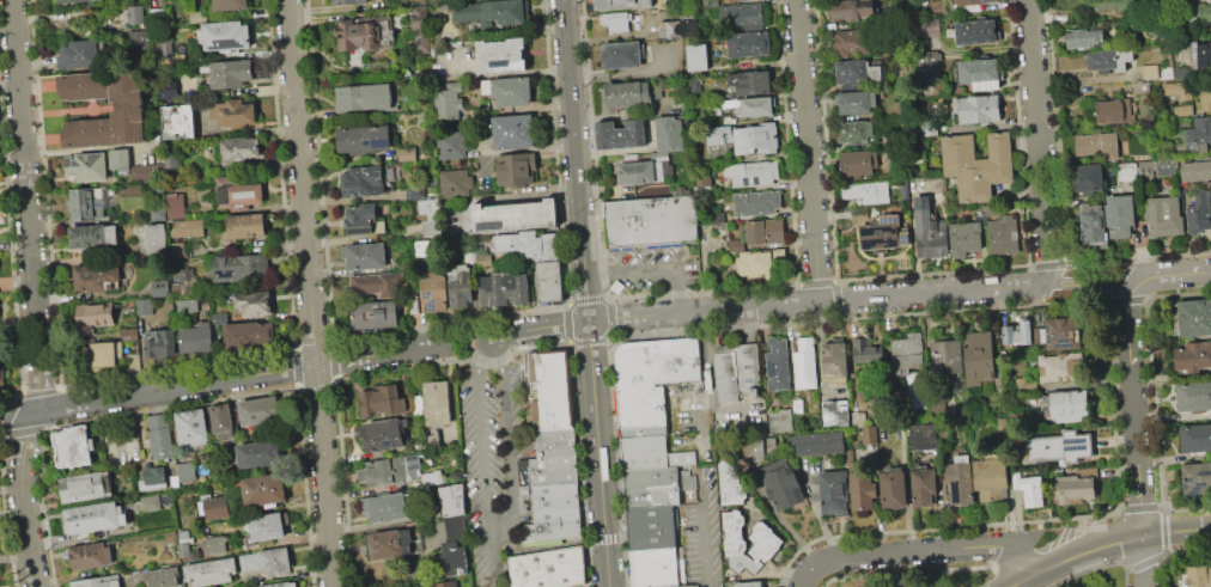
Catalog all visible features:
building: (73, 1)
building: (347, 1)
building: (704, 2)
building: (620, 4)
building: (972, 4)
building: (230, 5)
building: (1114, 6)
building: (491, 11)
building: (743, 13)
building: (135, 14)
building: (704, 14)
building: (852, 14)
building: (1199, 14)
building: (614, 23)
building: (665, 25)
building: (692, 26)
building: (930, 27)
building: (419, 29)
building: (1155, 31)
building: (974, 32)
building: (364, 33)
building: (224, 36)
building: (1084, 38)
building: (140, 39)
building: (851, 41)
building: (749, 44)
building: (168, 48)
building: (79, 54)
building: (622, 54)
building: (1200, 54)
building: (501, 56)
building: (696, 57)
building: (1108, 60)
building: (932, 65)
building: (1150, 72)
building: (1180, 72)
building: (231, 73)
building: (856, 73)
building: (980, 73)
building: (751, 82)
building: (694, 85)
building: (1140, 86)
building: (172, 88)
building: (656, 90)
building: (1177, 90)
building: (510, 91)
building: (627, 93)
building: (364, 97)
building: (1205, 98)
building: (450, 100)
building: (856, 103)
building: (129, 106)
building: (755, 108)
building: (976, 109)
building: (1113, 111)
building: (1183, 111)
building: (233, 112)
building: (177, 122)
building: (512, 132)
building: (854, 132)
building: (620, 134)
building: (1199, 134)
building: (668, 136)
building: (746, 136)
building: (364, 139)
road: (1039, 142)
building: (451, 145)
building: (1097, 145)
building: (241, 151)
road: (807, 151)
building: (404, 153)
building: (171, 159)
building: (858, 163)
building: (129, 165)
building: (976, 165)
building: (86, 166)
building: (516, 170)
building: (638, 170)
building: (1134, 170)
building: (1164, 170)
building: (1195, 170)
building: (751, 173)
building: (1088, 178)
building: (367, 181)
building: (702, 181)
road: (300, 182)
building: (456, 183)
building: (901, 189)
building: (237, 192)
building: (415, 192)
building: (872, 192)
building: (756, 202)
building: (85, 203)
building: (176, 206)
building: (992, 209)
building: (158, 213)
building: (1199, 213)
building: (430, 215)
building: (1119, 215)
building: (515, 216)
building: (1164, 216)
building: (717, 218)
building: (364, 220)
building: (651, 222)
building: (889, 224)
building: (248, 225)
building: (1093, 226)
building: (188, 228)
building: (930, 230)
building: (765, 231)
building: (1003, 236)
building: (93, 237)
building: (156, 238)
building: (905, 238)
building: (964, 238)
building: (525, 244)
building: (735, 245)
road: (646, 246)
building: (425, 247)
building: (364, 256)
building: (483, 259)
road: (1102, 261)
building: (756, 264)
building: (241, 268)
road: (653, 268)
road: (1174, 274)
building: (95, 277)
building: (187, 281)
building: (548, 281)
road: (1089, 282)
building: (378, 285)
building: (615, 286)
building: (160, 288)
building: (462, 289)
building: (504, 289)
building: (434, 291)
road: (584, 293)
road: (34, 294)
road: (1076, 301)
building: (252, 302)
building: (414, 304)
building: (144, 306)
road: (765, 306)
building: (375, 313)
building: (1194, 317)
building: (95, 318)
building: (218, 325)
building: (1018, 332)
building: (1058, 332)
building: (128, 334)
building: (249, 336)
building: (196, 338)
road: (467, 341)
building: (160, 342)
building: (864, 349)
building: (907, 351)
building: (107, 353)
building: (948, 356)
building: (1193, 356)
building: (978, 357)
building: (834, 359)
building: (134, 361)
building: (656, 361)
building: (777, 363)
building: (805, 363)
building: (1057, 367)
building: (736, 372)
road: (220, 379)
building: (549, 390)
building: (1193, 396)
building: (382, 400)
building: (437, 403)
building: (640, 405)
building: (797, 405)
building: (1067, 405)
building: (258, 411)
building: (835, 412)
building: (780, 420)
building: (223, 421)
building: (999, 424)
building: (191, 427)
building: (641, 429)
road: (1134, 433)
building: (383, 434)
building: (159, 436)
building: (923, 438)
building: (1195, 438)
building: (555, 442)
building: (816, 442)
building: (73, 446)
building: (1059, 446)
building: (123, 447)
building: (761, 447)
building: (214, 450)
building: (750, 450)
building: (650, 452)
building: (258, 454)
parking lot: (489, 460)
building: (390, 470)
building: (553, 470)
building: (185, 472)
road: (322, 475)
building: (432, 477)
building: (991, 477)
building: (1195, 478)
building: (960, 479)
building: (154, 481)
building: (728, 484)
building: (781, 484)
building: (655, 485)
building: (83, 487)
building: (924, 487)
building: (1029, 489)
building: (1073, 489)
building: (264, 490)
building: (862, 490)
building: (893, 490)
building: (833, 493)
building: (552, 495)
building: (454, 500)
building: (148, 502)
building: (387, 507)
building: (214, 508)
building: (93, 518)
building: (266, 525)
road: (499, 525)
building: (553, 525)
building: (650, 527)
building: (182, 533)
road: (1121, 540)
road: (702, 542)
building: (768, 542)
building: (394, 543)
road: (549, 544)
building: (215, 545)
building: (184, 550)
road: (495, 551)
road: (918, 551)
building: (90, 555)
building: (455, 558)
building: (268, 561)
building: (544, 567)
building: (656, 567)
building: (211, 571)
park: (949, 573)
building: (1197, 575)
building: (162, 577)
park: (1097, 579)
road: (1024, 580)
building: (97, 581)
building: (444, 583)
building: (749, 583)
building: (282, 585)
road: (713, 585)
building: (580, 586)
building: (681, 586)

